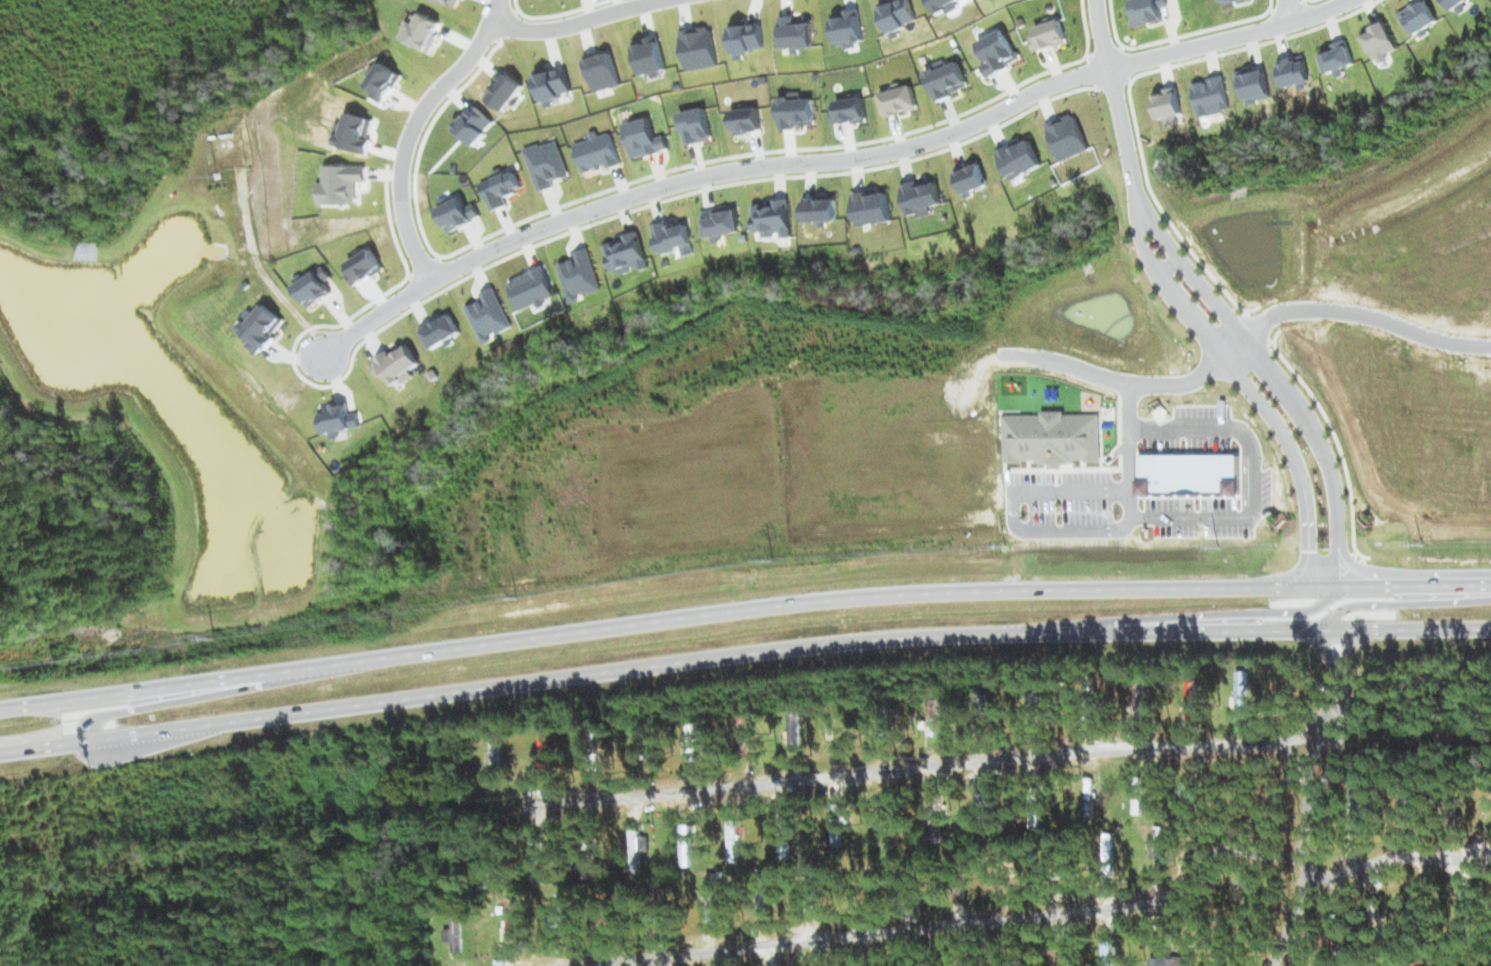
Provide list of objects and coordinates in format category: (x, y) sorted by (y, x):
road: (1287, 8)
building: (1147, 10)
road: (574, 22)
building: (1047, 35)
building: (1378, 37)
building: (1337, 57)
building: (650, 58)
building: (701, 58)
building: (998, 60)
building: (603, 71)
building: (1288, 77)
building: (943, 79)
building: (387, 81)
building: (1253, 83)
building: (505, 90)
building: (1210, 95)
building: (896, 99)
road: (1116, 101)
building: (1167, 104)
building: (795, 110)
building: (849, 110)
building: (745, 119)
building: (694, 124)
road: (413, 129)
building: (359, 131)
building: (1066, 136)
building: (642, 137)
building: (595, 152)
building: (1018, 158)
road: (820, 161)
building: (546, 164)
building: (970, 176)
building: (342, 182)
building: (499, 189)
building: (921, 197)
building: (872, 205)
building: (820, 208)
building: (457, 214)
building: (772, 216)
building: (719, 222)
building: (672, 236)
building: (624, 253)
building: (365, 265)
building: (579, 275)
building: (314, 287)
building: (531, 288)
road: (1365, 314)
building: (488, 315)
building: (263, 327)
building: (439, 330)
road: (1232, 344)
building: (396, 364)
road: (1120, 379)
road: (1276, 379)
road: (1251, 391)
building: (338, 418)
building: (1055, 437)
road: (1071, 528)
road: (1404, 602)
road: (742, 610)
road: (1256, 613)
road: (742, 653)
building: (1241, 693)
road: (1327, 697)
road: (148, 704)
building: (1191, 705)
building: (983, 711)
road: (1341, 713)
building: (885, 723)
building: (646, 743)
building: (495, 756)
road: (943, 765)
road: (1309, 779)
building: (1355, 795)
building: (1188, 799)
road: (1269, 802)
building: (983, 812)
building: (844, 816)
building: (1355, 820)
building: (836, 824)
building: (734, 840)
building: (635, 842)
building: (1159, 845)
building: (538, 858)
road: (1378, 861)
building: (1108, 864)
road: (1305, 884)
building: (762, 892)
building: (810, 898)
building: (563, 913)
building: (1375, 914)
building: (1158, 922)
building: (1336, 923)
road: (922, 929)
building: (1107, 952)
building: (1058, 957)
building: (1174, 961)

